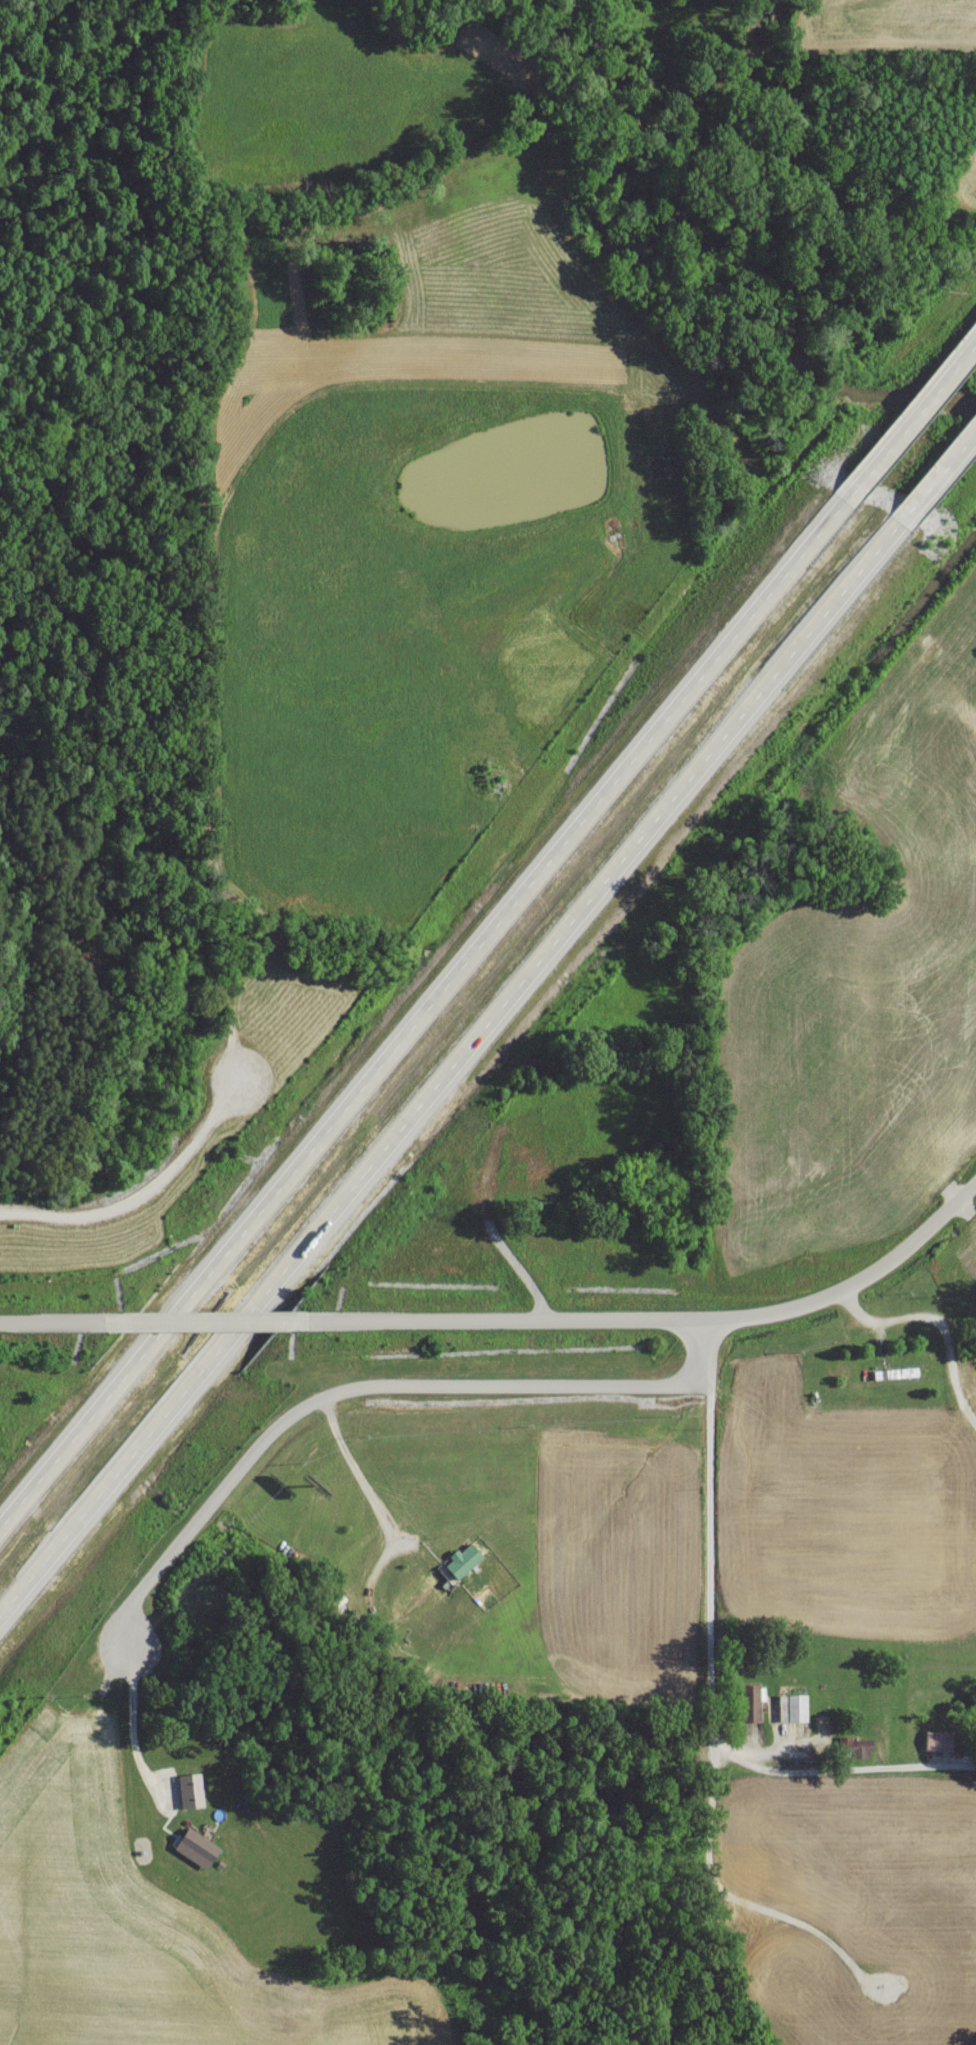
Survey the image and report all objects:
road: (928, 402)
road: (948, 464)
road: (439, 985)
road: (457, 1053)
building: (565, 1141)
road: (143, 1200)
road: (664, 1322)
road: (203, 1324)
road: (48, 1326)
road: (935, 1327)
road: (350, 1393)
road: (709, 1539)
building: (462, 1566)
building: (747, 1708)
building: (791, 1713)
road: (130, 1729)
building: (938, 1745)
building: (854, 1753)
road: (842, 1774)
building: (195, 1854)
building: (740, 1867)
petroleum well: (885, 1989)

